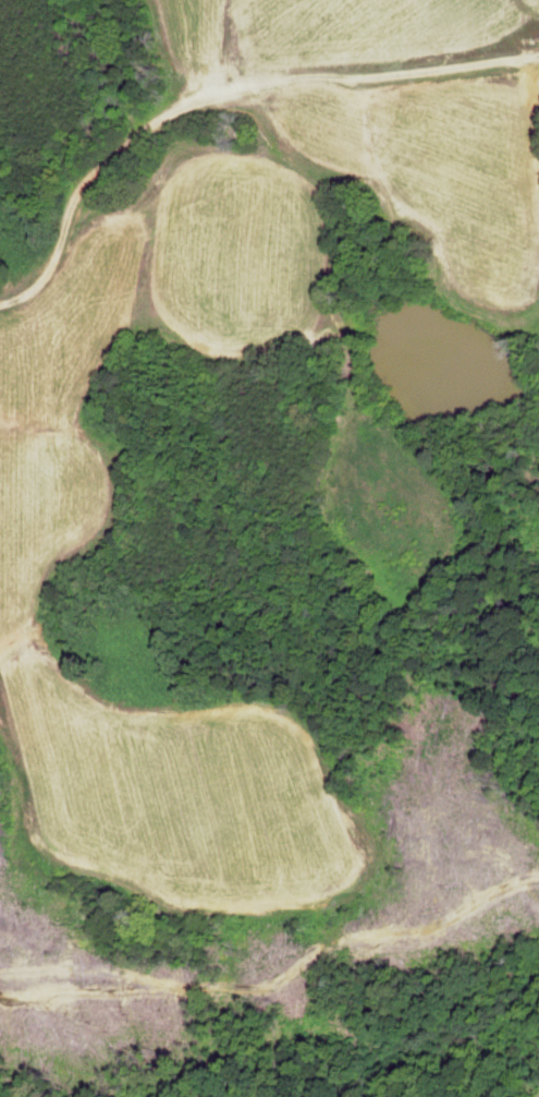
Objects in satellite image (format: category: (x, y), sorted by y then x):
road: (242, 93)

